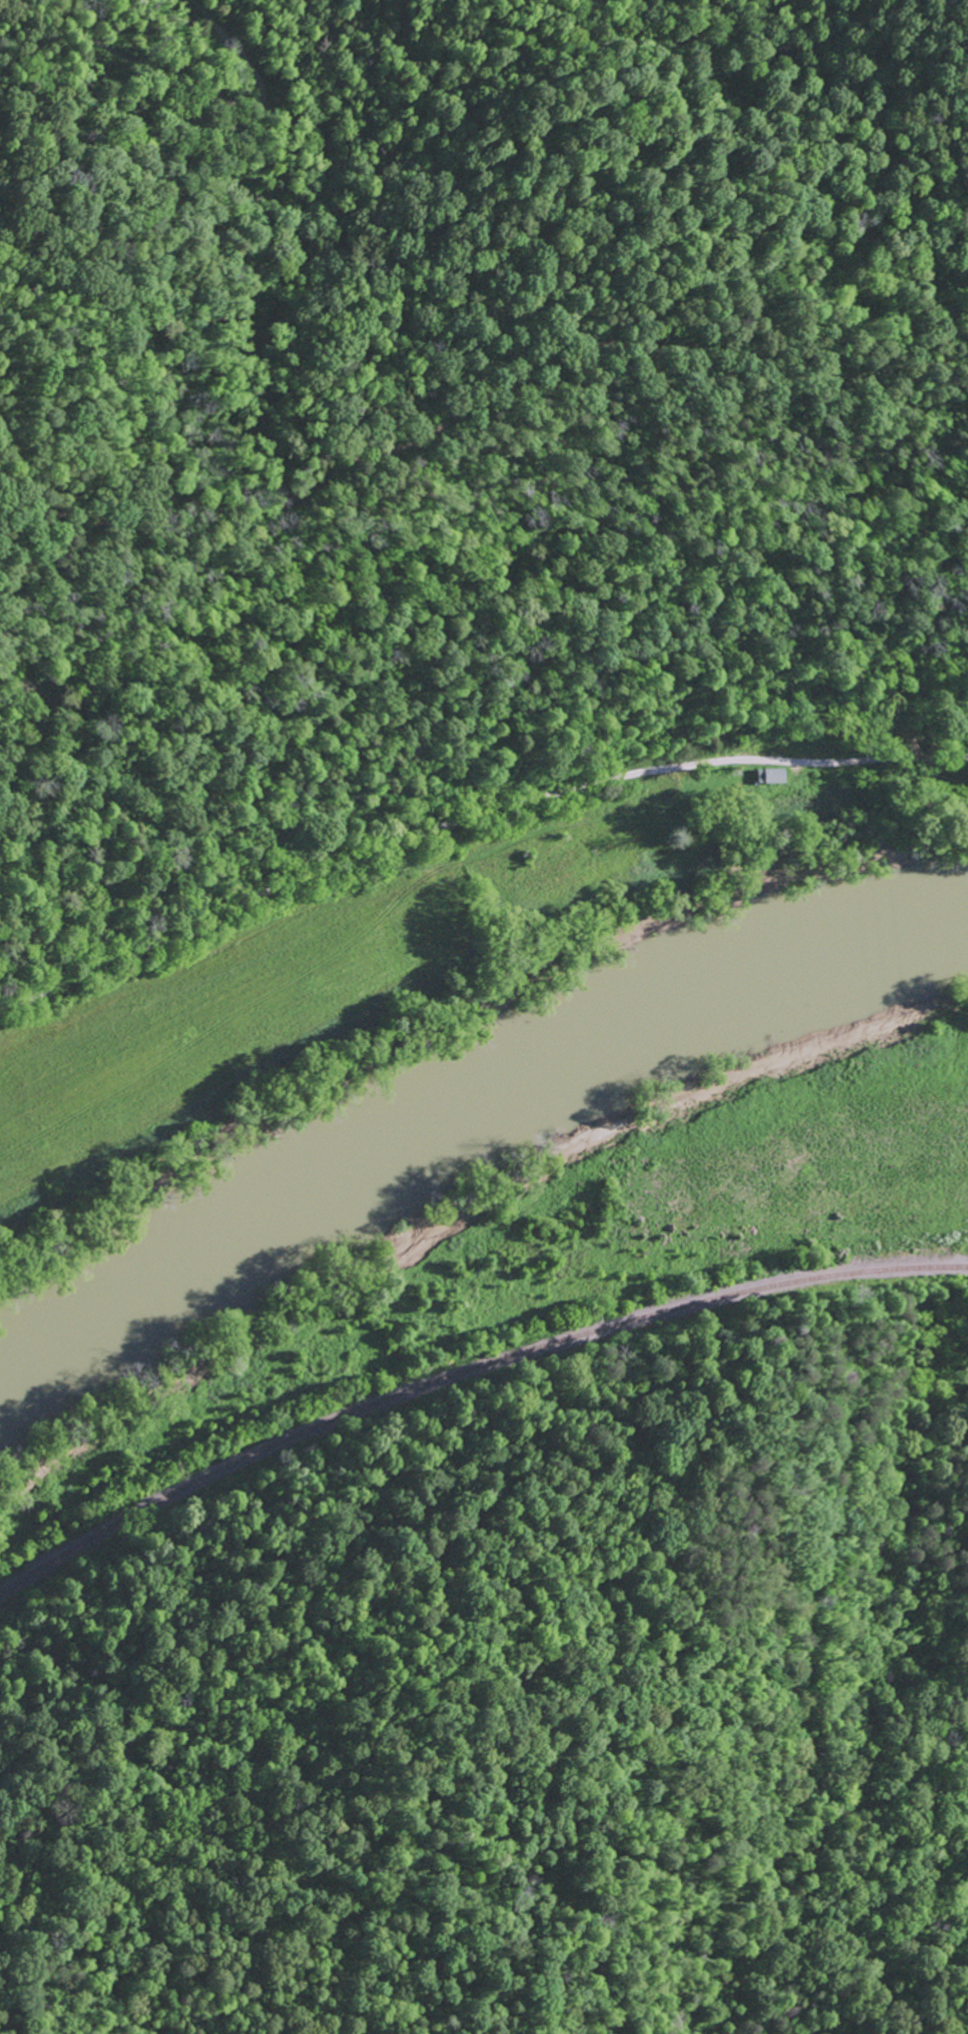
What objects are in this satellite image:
road: (277, 387)
building: (770, 775)
road: (468, 815)
river: (471, 1126)
railway: (465, 1379)

